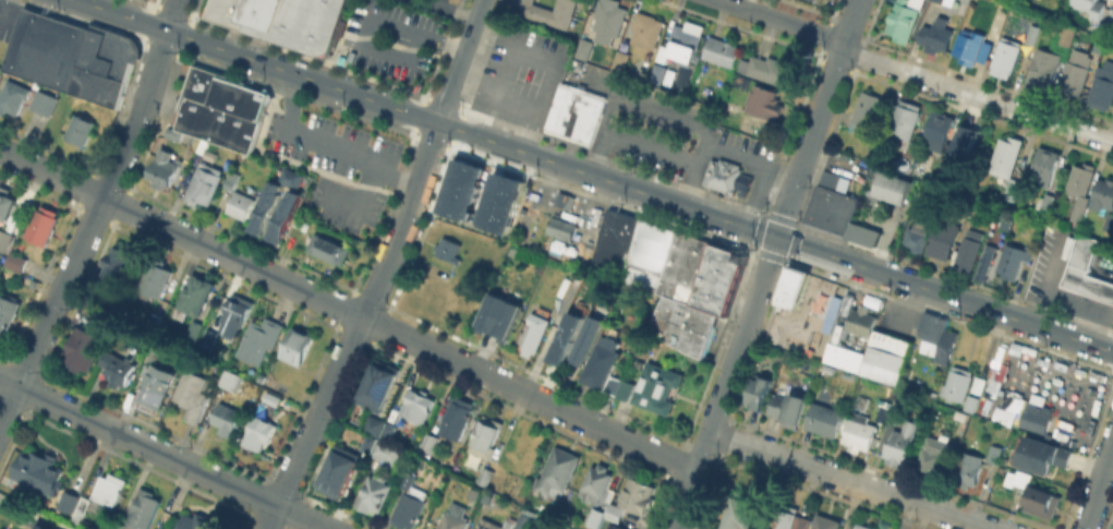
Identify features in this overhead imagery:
building: (812, 0)
building: (941, 0)
road: (458, 7)
building: (1091, 7)
building: (551, 11)
building: (1110, 17)
building: (281, 19)
building: (904, 19)
building: (609, 20)
road: (370, 21)
building: (648, 28)
building: (1065, 33)
building: (1033, 34)
building: (937, 35)
building: (685, 41)
building: (969, 45)
building: (589, 49)
road: (525, 50)
building: (722, 51)
building: (70, 55)
building: (1006, 56)
building: (660, 59)
building: (620, 60)
building: (1044, 67)
building: (775, 69)
building: (658, 72)
building: (1075, 72)
road: (916, 73)
building: (1103, 85)
building: (13, 96)
building: (44, 100)
building: (764, 100)
building: (220, 107)
building: (866, 110)
building: (713, 111)
building: (578, 117)
road: (815, 118)
road: (426, 119)
building: (906, 119)
building: (81, 128)
building: (939, 130)
building: (171, 132)
road: (307, 137)
road: (627, 141)
building: (964, 148)
road: (124, 151)
road: (733, 153)
building: (1007, 161)
building: (1044, 166)
building: (165, 170)
road: (376, 170)
building: (724, 173)
building: (292, 178)
building: (231, 179)
road: (778, 180)
building: (205, 183)
building: (891, 188)
building: (1080, 188)
building: (480, 193)
building: (1103, 194)
building: (562, 199)
building: (1044, 201)
building: (7, 202)
building: (241, 204)
building: (820, 204)
building: (267, 207)
building: (959, 209)
building: (842, 212)
building: (285, 216)
building: (1109, 221)
building: (44, 224)
building: (557, 228)
building: (862, 233)
building: (612, 238)
traffic signals: (776, 238)
building: (914, 238)
building: (944, 238)
building: (3, 239)
building: (330, 248)
building: (969, 249)
building: (449, 250)
road: (389, 256)
building: (1014, 259)
building: (17, 262)
building: (120, 262)
building: (981, 263)
building: (1084, 272)
building: (156, 276)
building: (24, 280)
building: (680, 284)
building: (794, 286)
building: (195, 293)
road: (944, 294)
building: (426, 296)
building: (867, 301)
building: (92, 304)
building: (8, 310)
road: (347, 310)
building: (235, 313)
building: (499, 317)
building: (859, 320)
building: (932, 326)
building: (195, 329)
building: (535, 332)
building: (567, 335)
building: (210, 338)
building: (261, 338)
building: (589, 338)
road: (37, 341)
building: (164, 341)
building: (298, 345)
building: (946, 345)
building: (84, 348)
building: (876, 359)
building: (601, 361)
building: (119, 368)
building: (231, 378)
road: (725, 383)
building: (957, 383)
building: (158, 384)
building: (978, 384)
building: (379, 386)
building: (620, 386)
building: (656, 386)
building: (760, 393)
building: (193, 394)
building: (274, 399)
building: (971, 401)
road: (8, 404)
building: (418, 408)
building: (789, 409)
building: (885, 413)
building: (1037, 416)
building: (895, 417)
building: (227, 418)
building: (452, 418)
building: (825, 418)
building: (374, 425)
building: (259, 431)
building: (388, 431)
building: (859, 432)
building: (486, 435)
building: (430, 440)
road: (137, 442)
building: (368, 443)
building: (900, 443)
building: (387, 450)
building: (994, 452)
building: (933, 457)
building: (1044, 458)
building: (968, 468)
building: (39, 470)
building: (559, 470)
building: (338, 474)
building: (485, 474)
building: (1019, 477)
building: (409, 479)
building: (1012, 479)
road: (849, 481)
building: (596, 482)
road: (1098, 486)
building: (109, 492)
building: (375, 492)
building: (638, 494)
building: (486, 496)
building: (64, 502)
building: (1043, 504)
building: (410, 506)
building: (80, 509)
building: (144, 509)
building: (742, 510)
building: (616, 512)
road: (271, 517)
road: (301, 517)
building: (453, 517)
building: (595, 517)
building: (793, 518)
building: (524, 520)
building: (197, 521)
building: (826, 521)
building: (496, 524)
building: (118, 525)
building: (38, 526)
building: (614, 526)
building: (863, 526)
building: (589, 527)
building: (155, 528)
building: (571, 528)
building: (576, 528)

